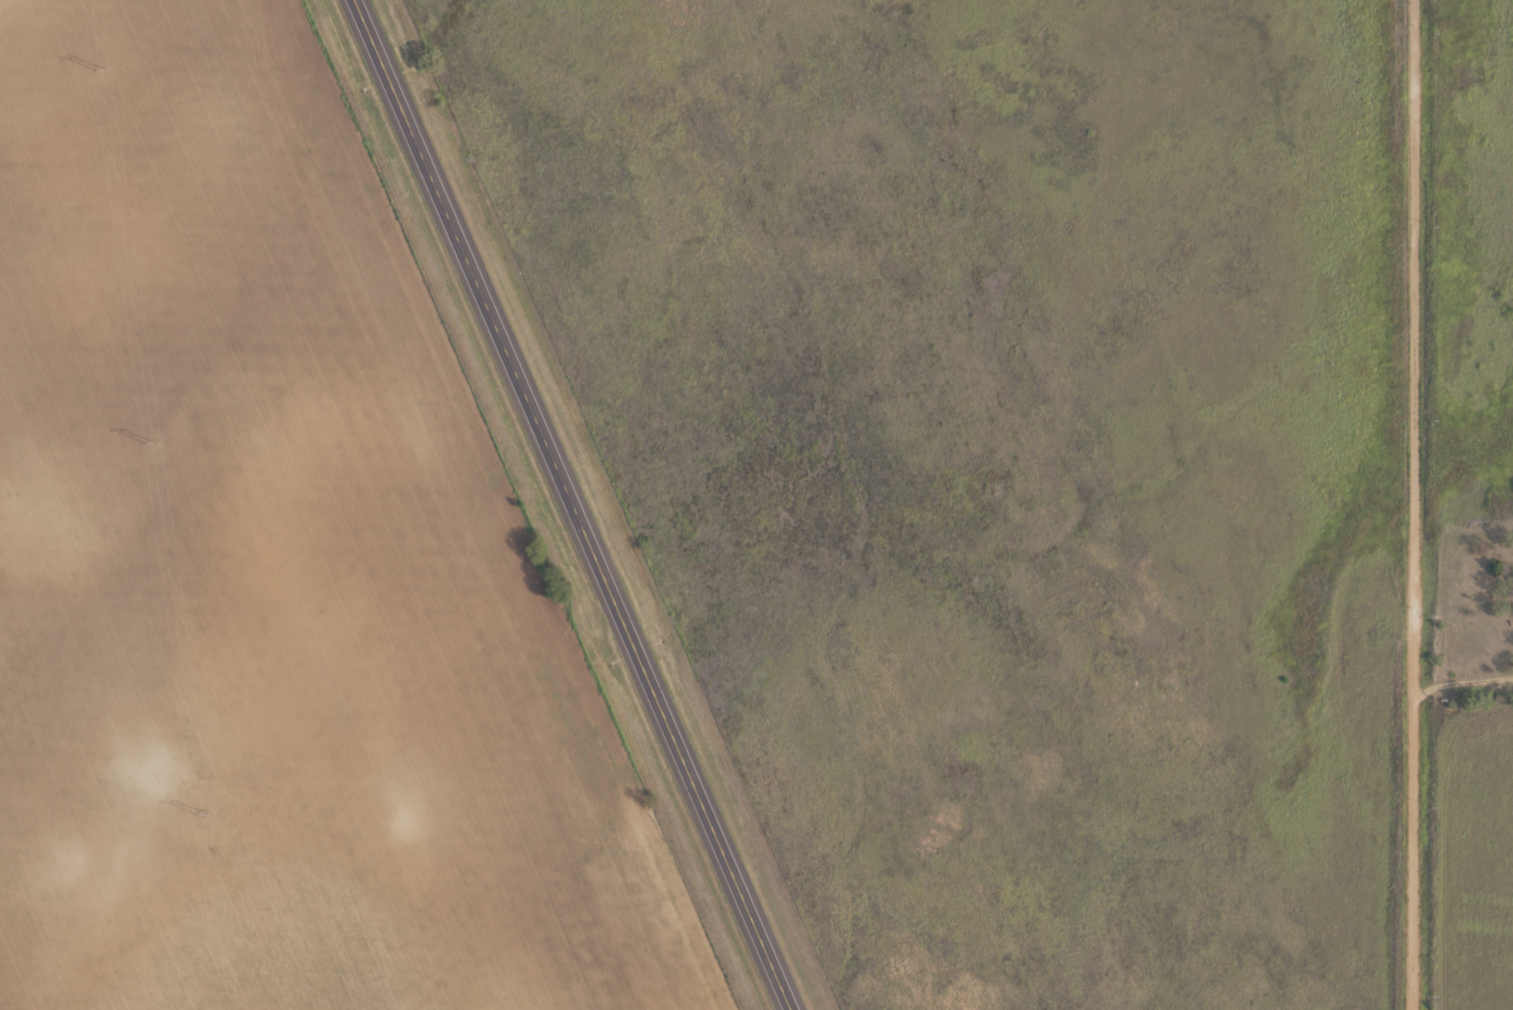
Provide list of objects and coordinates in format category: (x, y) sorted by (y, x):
power tower: (101, 72)
power tower: (151, 441)
road: (1416, 504)
road: (572, 505)
power tower: (202, 812)

